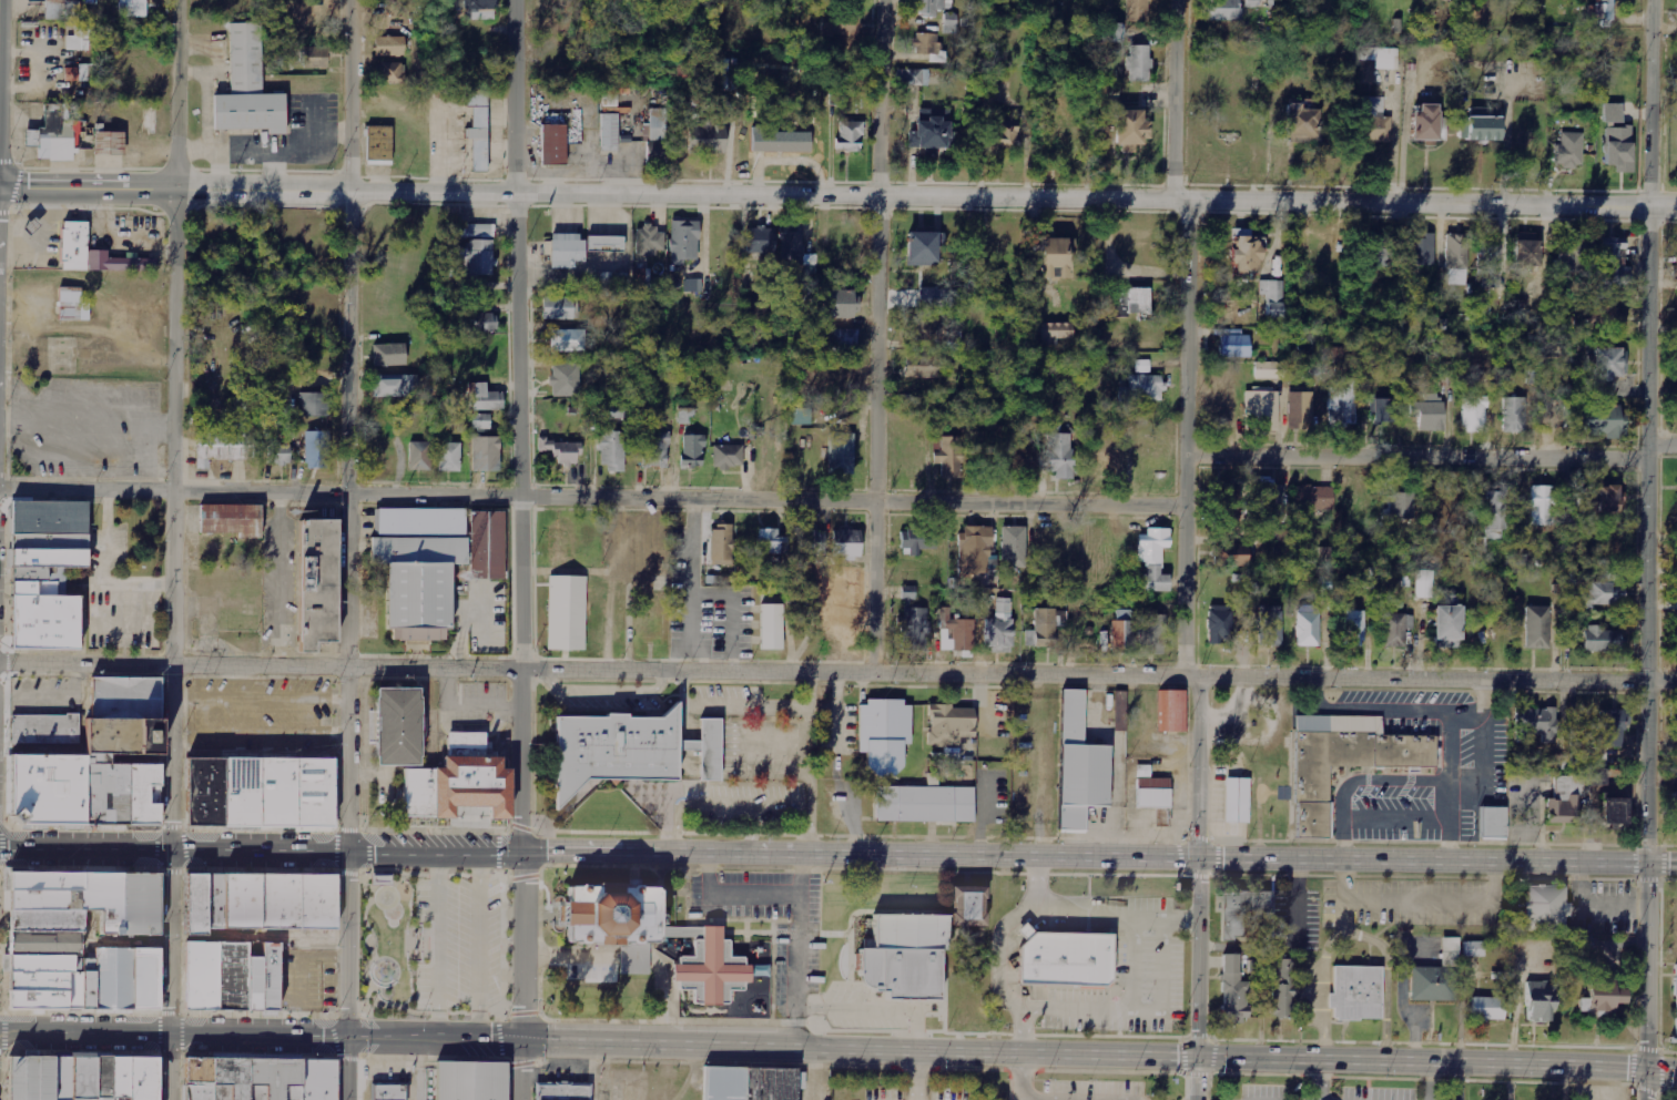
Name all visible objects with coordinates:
building: (1260, 3)
building: (929, 7)
building: (477, 8)
building: (133, 9)
building: (62, 10)
building: (1138, 10)
building: (1224, 10)
building: (1603, 11)
building: (951, 22)
building: (840, 26)
building: (1111, 31)
building: (81, 38)
building: (925, 43)
building: (389, 47)
building: (315, 58)
building: (1138, 62)
building: (1374, 63)
building: (78, 73)
building: (389, 73)
building: (917, 77)
building: (246, 89)
road: (1177, 102)
building: (1613, 112)
building: (1375, 121)
building: (1301, 123)
building: (659, 124)
building: (1426, 124)
building: (1481, 124)
building: (478, 129)
building: (1130, 129)
building: (121, 131)
building: (931, 131)
building: (610, 133)
building: (55, 135)
building: (707, 136)
building: (851, 136)
building: (1006, 136)
building: (782, 140)
building: (553, 144)
building: (1619, 147)
building: (1569, 150)
building: (657, 154)
road: (838, 197)
building: (477, 231)
building: (760, 240)
building: (649, 241)
building: (683, 241)
building: (606, 243)
building: (922, 247)
building: (795, 248)
building: (1421, 248)
building: (566, 249)
building: (1247, 252)
building: (1526, 253)
building: (1378, 254)
building: (91, 255)
building: (1056, 257)
building: (471, 258)
building: (1456, 258)
building: (1488, 262)
building: (1568, 263)
building: (1612, 267)
building: (693, 285)
building: (1273, 297)
building: (938, 298)
building: (905, 299)
building: (1138, 301)
building: (836, 304)
building: (70, 306)
building: (560, 308)
building: (1597, 317)
building: (480, 322)
building: (1056, 332)
road: (882, 336)
building: (568, 340)
building: (844, 340)
building: (1236, 345)
building: (389, 355)
building: (1607, 363)
building: (923, 366)
building: (1142, 366)
building: (1271, 370)
building: (566, 379)
building: (395, 387)
building: (1144, 388)
building: (486, 398)
building: (315, 404)
building: (1343, 405)
building: (1263, 408)
building: (1301, 409)
building: (1384, 409)
building: (612, 410)
building: (1222, 410)
building: (1429, 412)
building: (1474, 414)
building: (1514, 415)
building: (685, 416)
building: (801, 416)
building: (480, 420)
building: (1602, 420)
parking lot: (84, 426)
road: (176, 426)
road: (353, 427)
road: (526, 427)
road: (1649, 431)
road: (1185, 440)
building: (221, 445)
road: (1663, 447)
building: (317, 449)
building: (612, 449)
building: (562, 450)
building: (655, 450)
building: (692, 450)
building: (278, 454)
building: (484, 454)
building: (841, 454)
building: (417, 455)
building: (446, 455)
building: (1060, 455)
building: (729, 456)
building: (952, 457)
road: (1416, 458)
road: (591, 493)
building: (1314, 498)
building: (1612, 499)
building: (1273, 501)
building: (1227, 503)
building: (1399, 506)
building: (1544, 506)
building: (1496, 513)
building: (227, 521)
building: (771, 541)
building: (918, 541)
building: (811, 542)
building: (846, 543)
building: (485, 544)
building: (720, 546)
building: (558, 547)
building: (1014, 547)
building: (1602, 547)
building: (974, 550)
building: (1231, 556)
building: (1155, 559)
building: (417, 564)
building: (43, 568)
building: (992, 573)
building: (315, 580)
road: (692, 583)
building: (1424, 584)
building: (908, 593)
building: (1604, 594)
building: (565, 614)
building: (766, 624)
building: (1220, 624)
building: (1048, 625)
building: (1271, 625)
building: (1447, 627)
building: (652, 628)
building: (1000, 628)
building: (1538, 628)
building: (915, 629)
building: (1353, 629)
building: (1396, 629)
building: (1308, 630)
building: (959, 631)
building: (1124, 632)
building: (1152, 634)
building: (1602, 639)
road: (837, 672)
building: (1121, 711)
parking lot: (260, 713)
building: (1170, 713)
building: (1538, 723)
building: (396, 725)
building: (949, 726)
building: (44, 727)
building: (883, 736)
building: (1605, 736)
building: (626, 747)
building: (120, 758)
building: (95, 760)
building: (1346, 762)
building: (1559, 763)
building: (1079, 768)
road: (1198, 768)
building: (1596, 777)
building: (457, 782)
building: (257, 791)
building: (1151, 795)
building: (1566, 799)
building: (1237, 801)
building: (923, 805)
building: (1615, 811)
building: (1674, 811)
building: (1494, 823)
road: (2, 827)
road: (6, 848)
traffic signals: (355, 855)
road: (838, 857)
traffic signals: (1200, 860)
traffic signals: (1650, 863)
road: (801, 872)
road: (2, 879)
road: (707, 879)
road: (370, 895)
building: (260, 900)
building: (967, 906)
building: (1546, 909)
building: (1243, 910)
road: (800, 926)
building: (649, 936)
building: (44, 939)
road: (3, 940)
park: (390, 940)
parking lot: (463, 940)
road: (368, 943)
building: (1474, 949)
building: (902, 954)
building: (1065, 959)
road: (1648, 965)
building: (759, 970)
building: (230, 975)
road: (173, 976)
building: (1439, 976)
road: (354, 977)
road: (525, 977)
parking lot: (309, 979)
road: (1198, 979)
building: (1284, 990)
building: (1234, 991)
building: (1354, 995)
road: (1, 997)
road: (368, 997)
building: (1604, 998)
road: (408, 999)
building: (1541, 1001)
building: (1488, 1008)
building: (1676, 1022)
road: (3, 1031)
traffic signals: (354, 1037)
traffic signals: (525, 1039)
road: (838, 1045)
road: (1, 1049)
traffic signals: (1197, 1058)
traffic signals: (1646, 1067)
road: (917, 1073)
building: (16, 1076)
building: (38, 1076)
building: (58, 1076)
building: (111, 1076)
building: (260, 1076)
building: (468, 1081)
road: (1645, 1083)
building: (749, 1084)
road: (1022, 1089)
building: (388, 1092)
building: (561, 1092)

